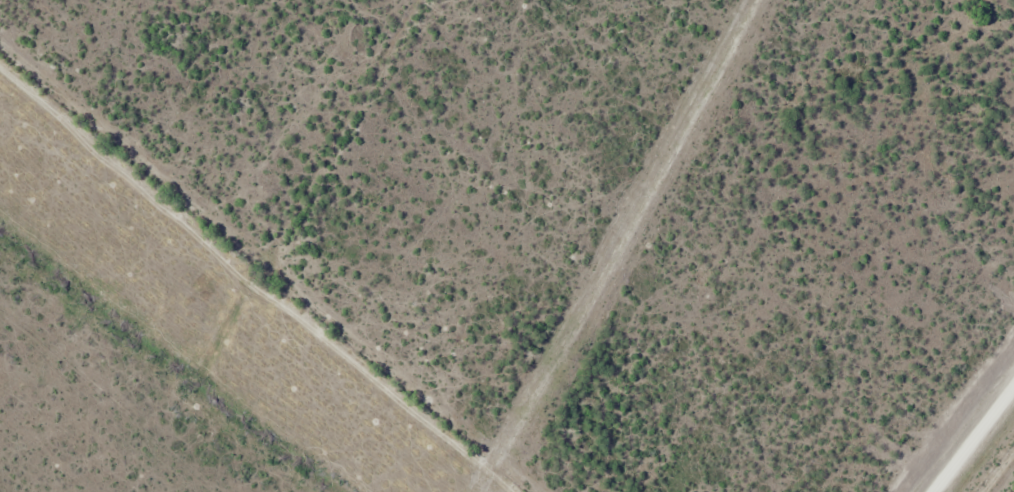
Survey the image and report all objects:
road: (264, 277)

